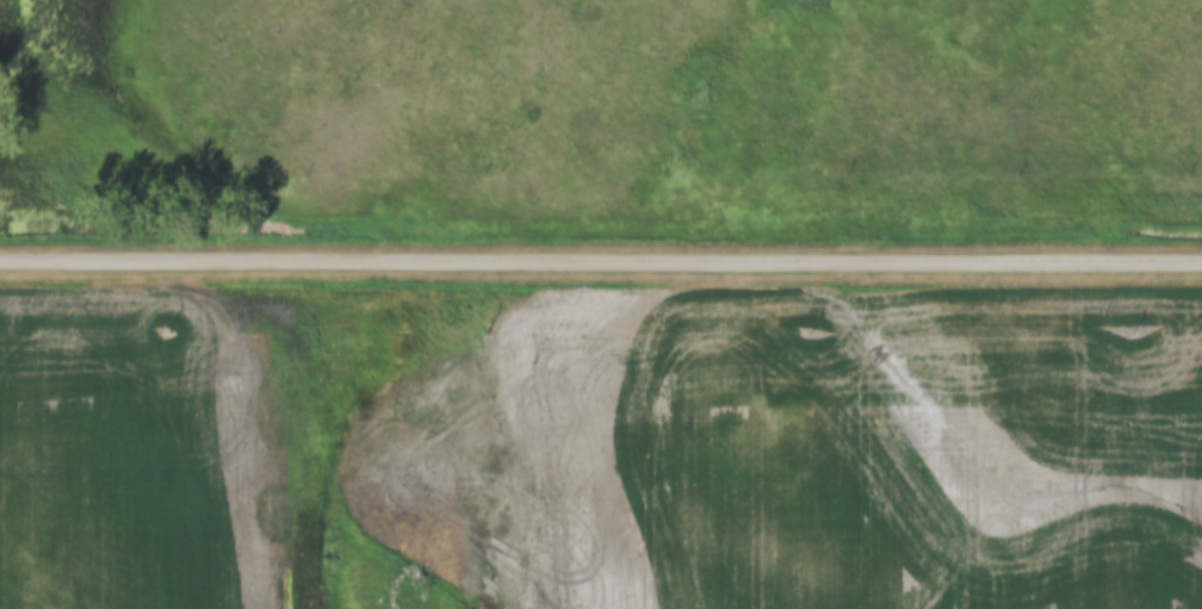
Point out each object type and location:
road: (601, 259)

